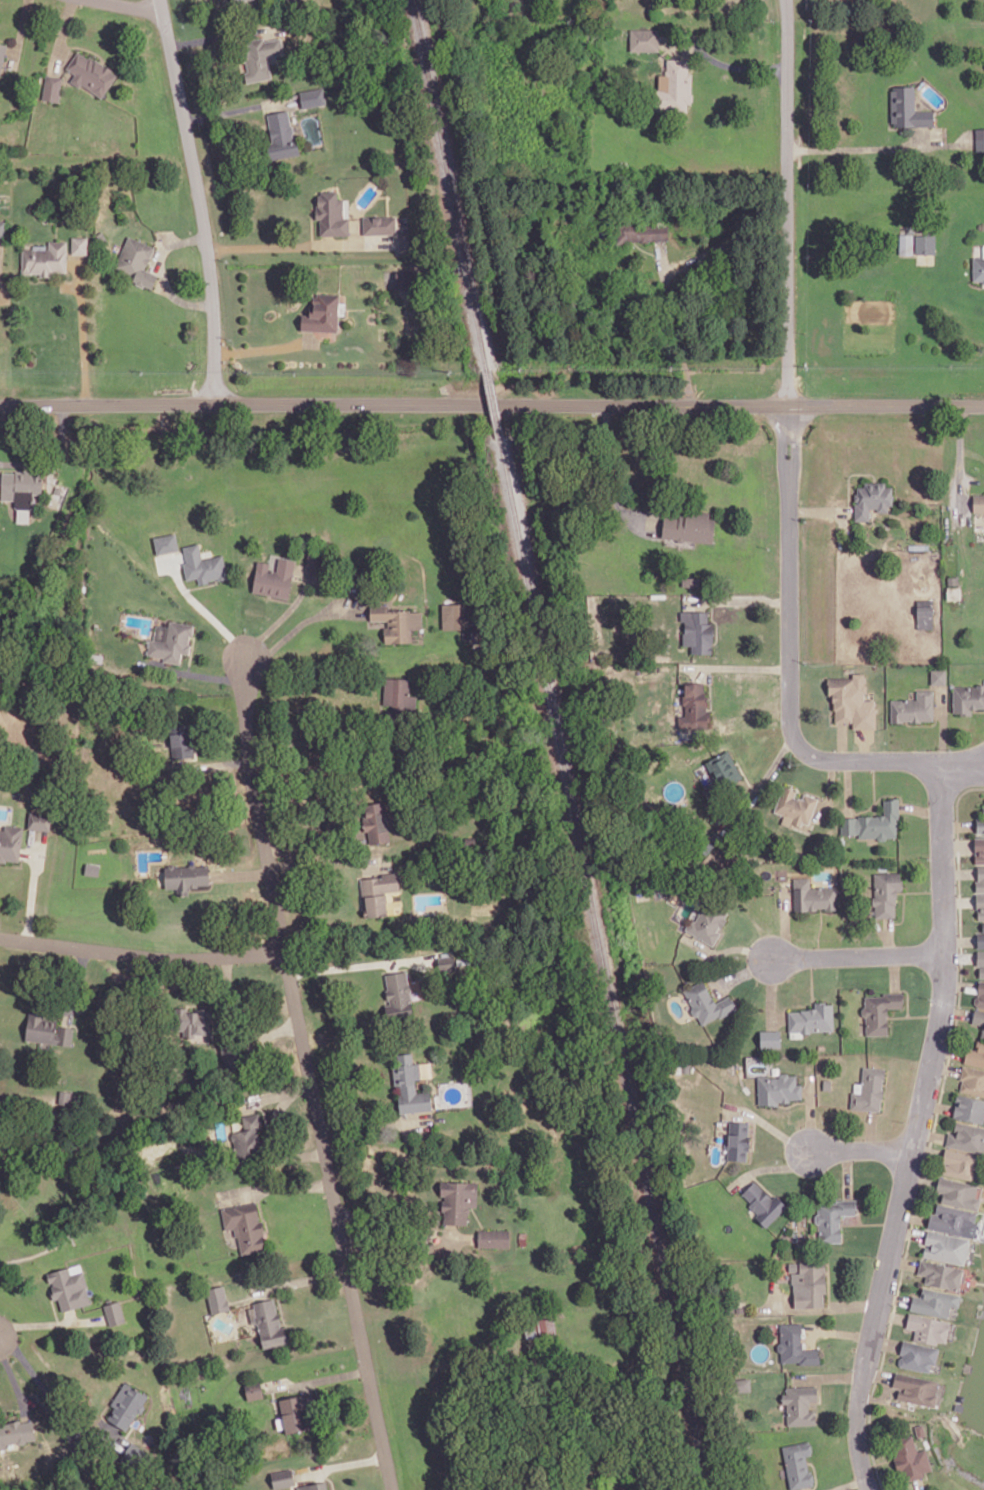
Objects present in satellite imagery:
building: (232, 0)
road: (130, 6)
road: (21, 32)
road: (222, 34)
road: (61, 35)
building: (643, 40)
road: (84, 47)
building: (2, 53)
building: (261, 56)
road: (741, 64)
building: (91, 72)
building: (674, 86)
building: (52, 87)
building: (312, 96)
building: (907, 106)
road: (240, 107)
building: (281, 135)
building: (980, 137)
road: (945, 143)
road: (863, 147)
railway: (449, 184)
road: (200, 199)
road: (787, 210)
building: (331, 213)
building: (379, 224)
building: (2, 227)
building: (631, 235)
building: (102, 236)
building: (905, 242)
building: (925, 243)
building: (79, 244)
road: (723, 245)
road: (303, 246)
road: (644, 249)
building: (45, 258)
building: (136, 260)
building: (979, 267)
road: (161, 271)
road: (55, 279)
flagpole: (280, 303)
building: (322, 312)
road: (674, 325)
road: (82, 329)
flagpole: (171, 342)
road: (264, 347)
railway: (490, 404)
road: (491, 404)
flagpole: (865, 431)
flagpole: (870, 431)
flagpole: (875, 431)
flagpole: (880, 431)
road: (54, 457)
road: (783, 457)
road: (796, 457)
road: (960, 462)
road: (609, 475)
road: (849, 477)
flagpole: (855, 477)
building: (21, 486)
building: (58, 489)
building: (871, 498)
building: (979, 502)
road: (821, 510)
building: (690, 526)
building: (166, 542)
building: (203, 564)
building: (274, 577)
building: (952, 579)
road: (202, 585)
building: (954, 591)
road: (280, 598)
road: (740, 600)
road: (204, 608)
building: (925, 611)
building: (451, 614)
road: (281, 616)
building: (397, 621)
road: (298, 624)
building: (697, 630)
building: (416, 636)
building: (171, 640)
road: (191, 651)
road: (736, 666)
road: (201, 674)
building: (938, 674)
road: (791, 689)
building: (398, 692)
building: (968, 697)
building: (851, 699)
building: (913, 706)
building: (694, 707)
road: (943, 726)
building: (181, 739)
road: (300, 740)
road: (842, 741)
road: (222, 762)
road: (958, 767)
building: (724, 768)
road: (873, 780)
road: (761, 781)
road: (847, 787)
road: (828, 791)
building: (794, 806)
road: (920, 809)
building: (983, 809)
building: (39, 820)
building: (377, 820)
building: (873, 821)
road: (958, 824)
building: (980, 824)
building: (10, 841)
road: (957, 844)
building: (979, 848)
road: (328, 858)
road: (958, 872)
road: (241, 873)
building: (186, 875)
building: (980, 878)
road: (33, 885)
road: (921, 890)
building: (377, 891)
building: (886, 892)
building: (812, 894)
road: (959, 901)
building: (980, 903)
road: (902, 912)
building: (707, 921)
road: (784, 923)
building: (983, 925)
road: (818, 932)
road: (888, 935)
road: (718, 937)
building: (980, 939)
road: (960, 940)
road: (727, 948)
road: (142, 954)
street lamp: (746, 954)
road: (859, 955)
road: (961, 956)
building: (980, 957)
building: (446, 963)
railway: (604, 963)
road: (345, 965)
road: (289, 970)
road: (743, 971)
building: (981, 971)
road: (894, 972)
road: (78, 979)
road: (811, 981)
road: (961, 984)
road: (771, 991)
building: (980, 993)
building: (398, 994)
road: (907, 995)
building: (707, 1002)
building: (880, 1010)
road: (956, 1011)
road: (915, 1014)
building: (978, 1015)
building: (813, 1017)
building: (193, 1020)
building: (47, 1028)
road: (281, 1028)
building: (983, 1032)
building: (770, 1037)
road: (949, 1049)
building: (975, 1053)
building: (685, 1065)
road: (946, 1066)
building: (972, 1079)
building: (410, 1083)
building: (827, 1083)
building: (778, 1087)
building: (869, 1088)
road: (276, 1094)
road: (884, 1100)
road: (283, 1101)
road: (792, 1102)
road: (938, 1105)
building: (969, 1107)
road: (810, 1112)
road: (373, 1118)
road: (770, 1125)
road: (871, 1129)
road: (918, 1130)
road: (932, 1131)
road: (754, 1133)
road: (930, 1134)
building: (248, 1135)
building: (967, 1136)
building: (738, 1140)
road: (862, 1149)
road: (928, 1150)
road: (299, 1153)
building: (0, 1157)
street lamp: (785, 1157)
building: (960, 1161)
road: (774, 1167)
road: (847, 1173)
road: (922, 1179)
road: (762, 1183)
road: (275, 1185)
building: (958, 1192)
building: (457, 1198)
building: (763, 1202)
road: (860, 1204)
road: (260, 1210)
road: (913, 1215)
building: (833, 1217)
building: (953, 1219)
road: (869, 1222)
building: (245, 1225)
road: (401, 1227)
road: (910, 1232)
building: (494, 1236)
building: (946, 1245)
pier: (982, 1252)
road: (903, 1261)
building: (793, 1265)
building: (941, 1273)
road: (302, 1279)
building: (810, 1283)
road: (828, 1283)
building: (68, 1286)
road: (776, 1296)
building: (218, 1298)
road: (896, 1298)
building: (934, 1301)
building: (730, 1308)
building: (740, 1308)
road: (819, 1308)
road: (54, 1309)
pier: (980, 1311)
building: (114, 1312)
road: (892, 1315)
road: (71, 1316)
road: (51, 1322)
building: (269, 1322)
building: (547, 1327)
building: (928, 1327)
road: (840, 1331)
road: (886, 1342)
building: (794, 1344)
building: (917, 1354)
pier: (968, 1366)
road: (878, 1374)
road: (828, 1376)
road: (13, 1380)
road: (316, 1380)
building: (741, 1383)
road: (371, 1386)
building: (254, 1389)
building: (915, 1389)
road: (819, 1393)
road: (880, 1395)
road: (34, 1399)
road: (48, 1399)
pier: (959, 1400)
road: (895, 1401)
building: (127, 1403)
building: (800, 1403)
building: (296, 1412)
building: (920, 1428)
building: (16, 1433)
building: (133, 1456)
building: (909, 1459)
building: (798, 1463)
road: (341, 1464)
building: (283, 1476)
road: (329, 1477)
road: (847, 1484)
road: (919, 1484)
building: (314, 1486)
building: (562, 1489)

